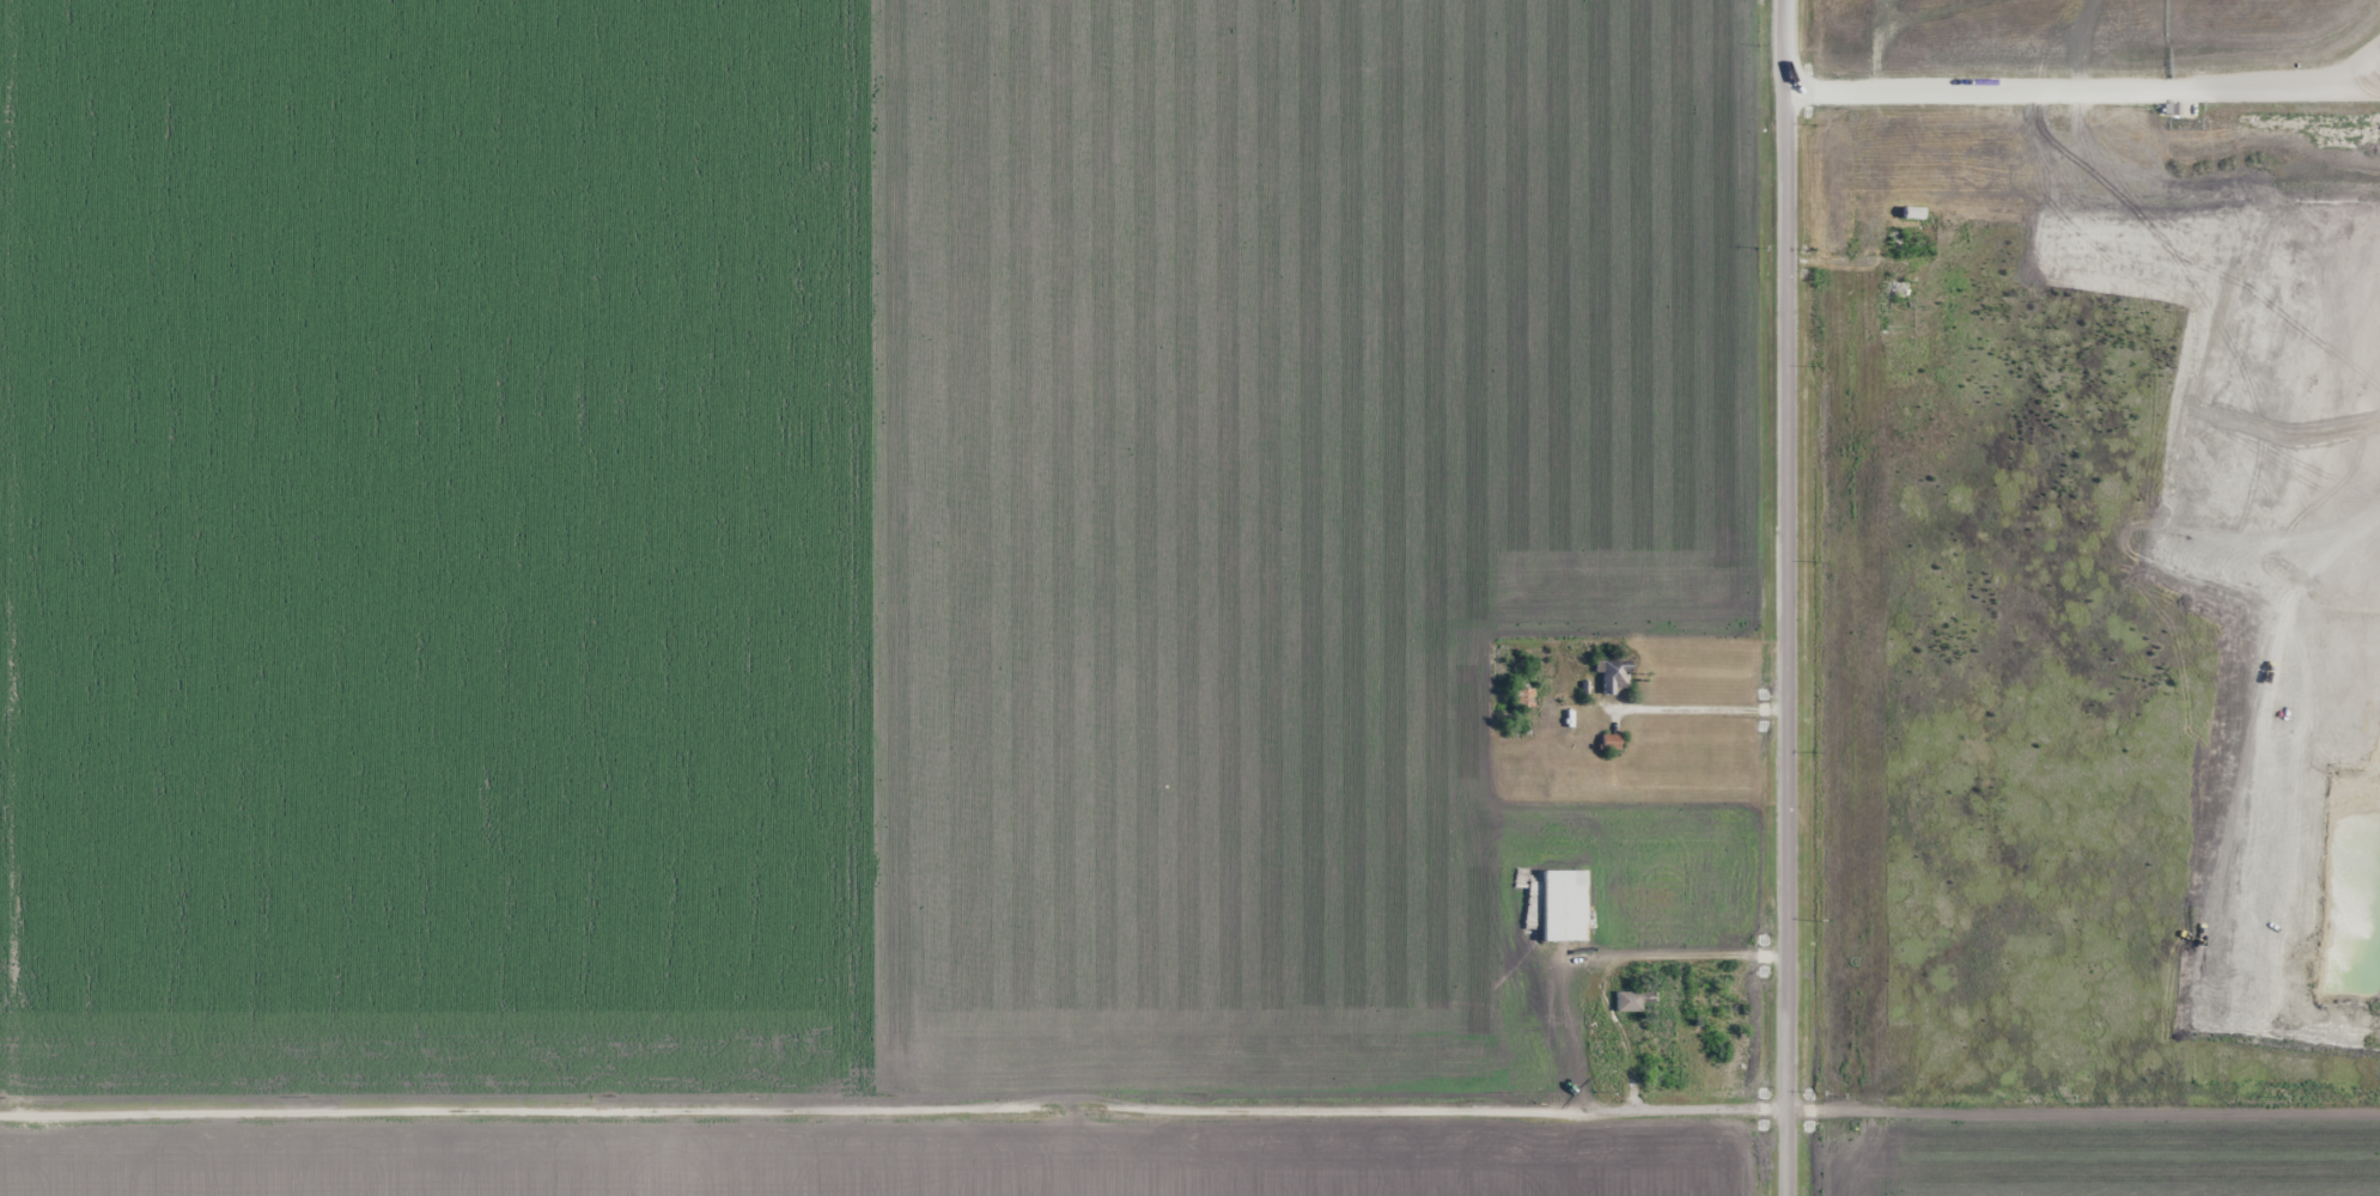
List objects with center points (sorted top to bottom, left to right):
road: (1781, 597)
building: (1613, 675)
building: (1562, 905)
building: (1666, 1005)
road: (1189, 1103)

